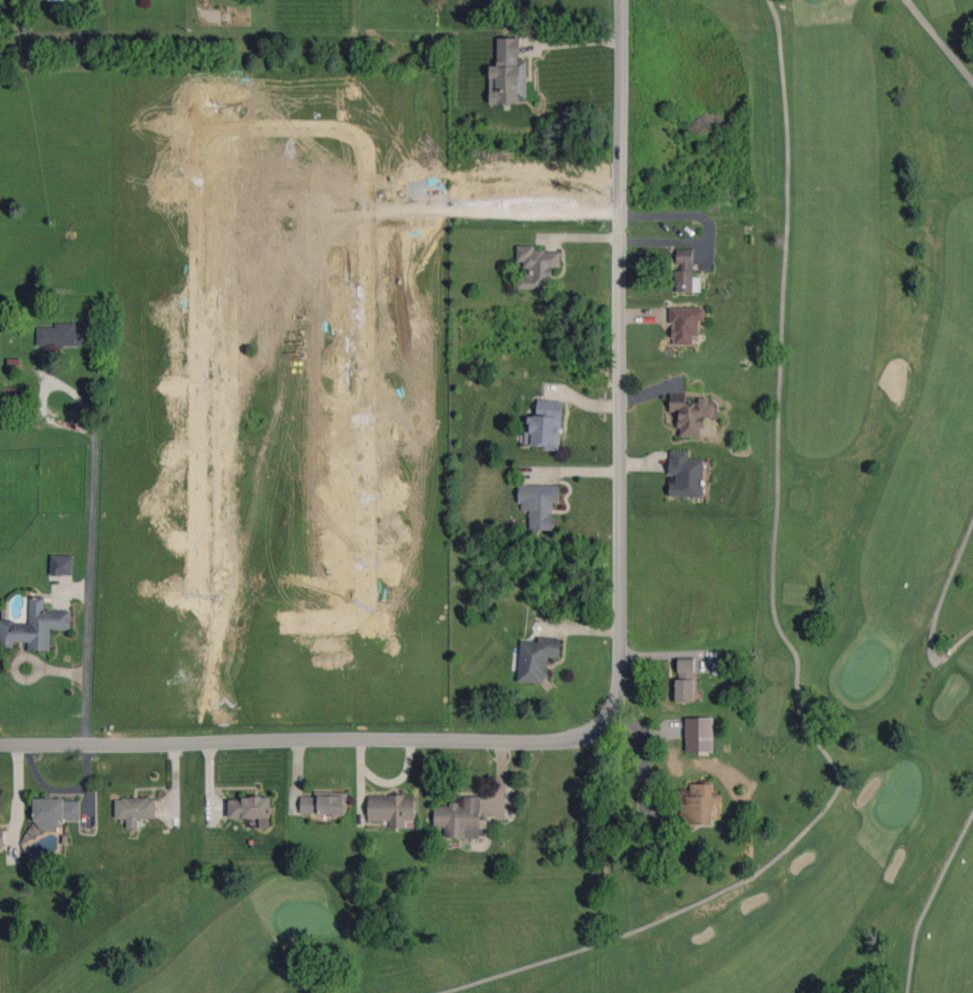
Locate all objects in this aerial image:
building: (508, 73)
building: (536, 266)
building: (686, 271)
building: (685, 324)
building: (61, 335)
building: (690, 413)
building: (545, 425)
building: (686, 475)
building: (539, 505)
road: (92, 548)
building: (61, 565)
park: (732, 575)
building: (35, 626)
building: (537, 658)
road: (620, 665)
building: (684, 689)
building: (699, 734)
road: (646, 763)
park: (899, 795)
building: (324, 804)
building: (699, 804)
building: (135, 809)
building: (251, 809)
building: (392, 809)
building: (54, 812)
building: (459, 818)
building: (2, 836)
park: (304, 919)

